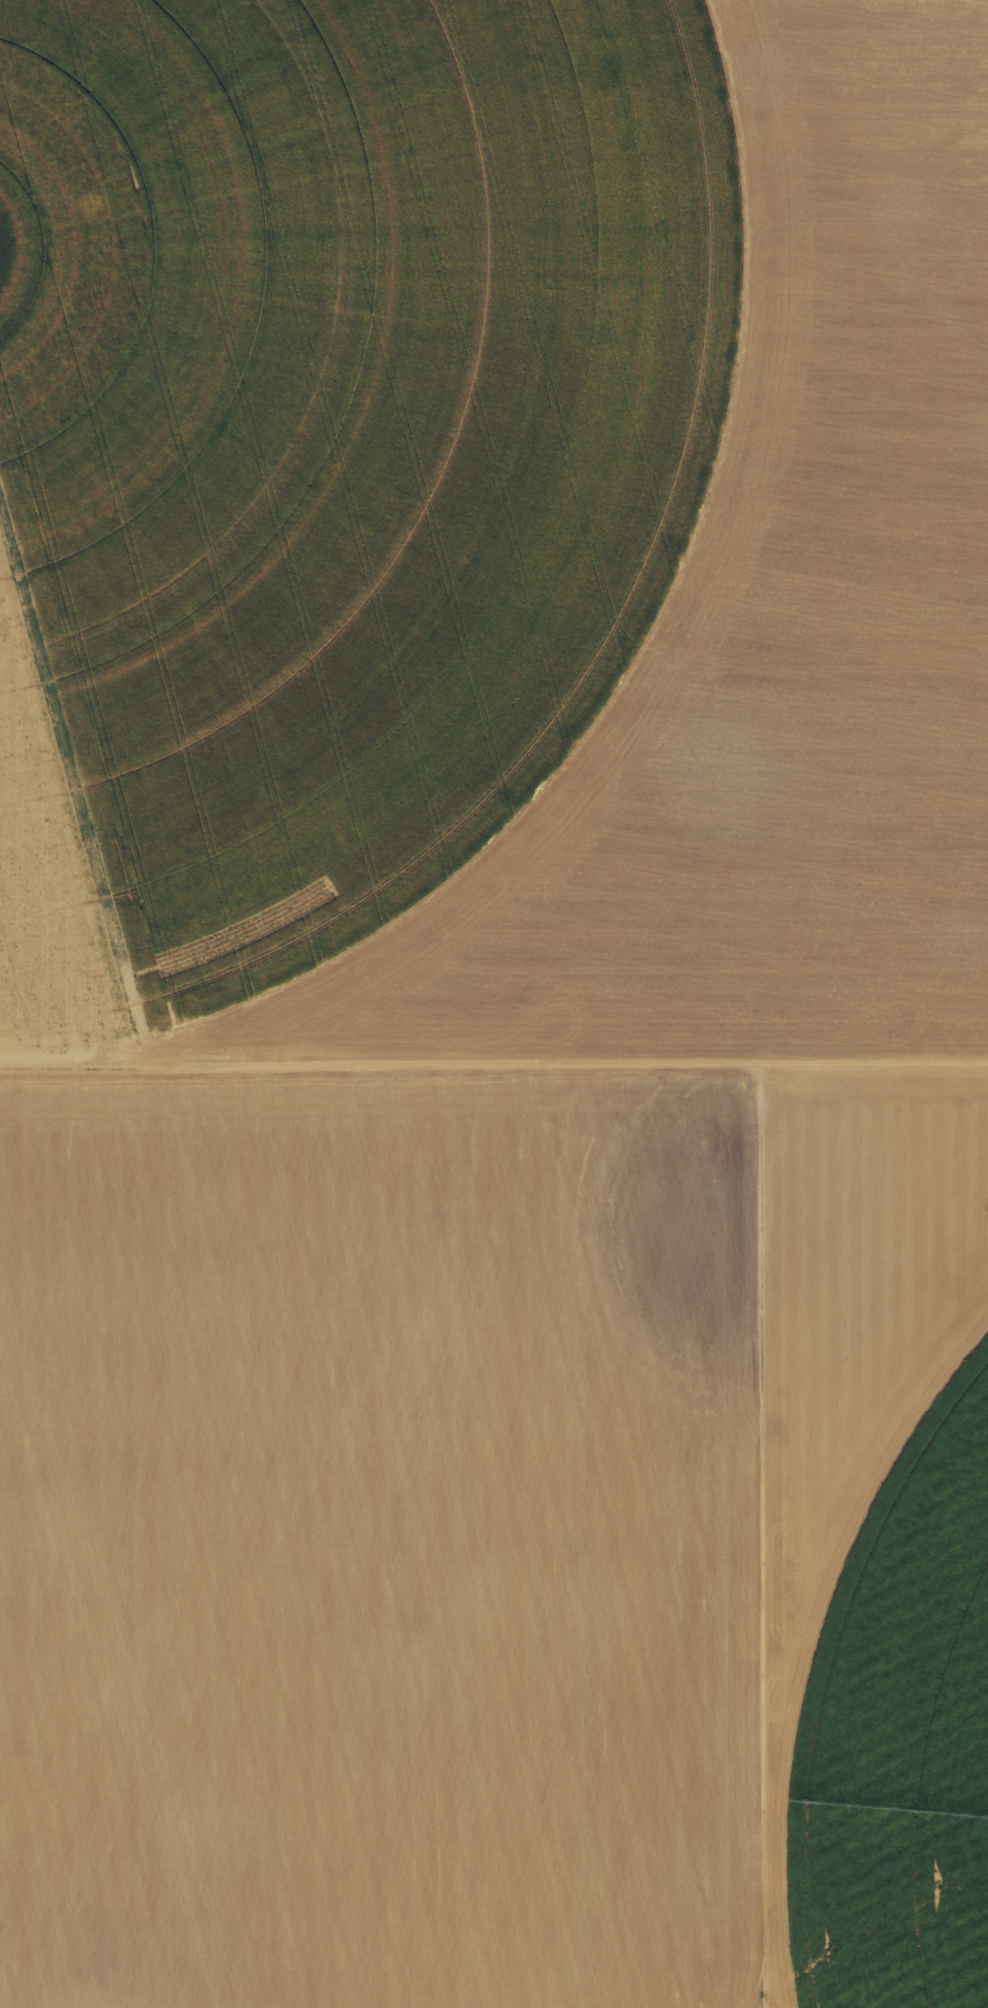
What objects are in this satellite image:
road: (494, 1084)
road: (751, 1545)

